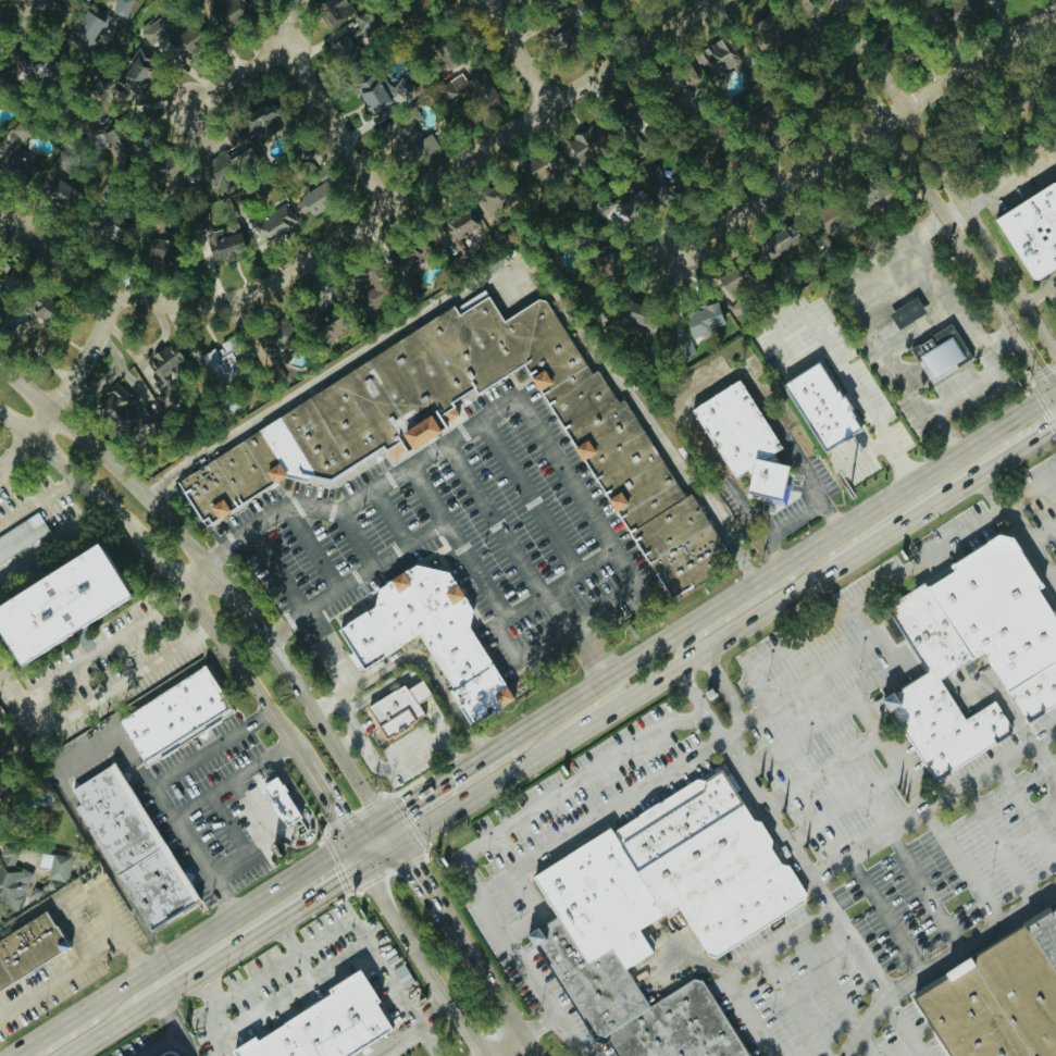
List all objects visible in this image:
road: (29, 0)
building: (987, 0)
building: (537, 3)
building: (946, 8)
building: (119, 9)
building: (331, 10)
building: (219, 14)
building: (84, 28)
building: (765, 32)
building: (568, 33)
building: (879, 36)
building: (169, 40)
building: (351, 40)
road: (514, 52)
building: (903, 54)
building: (439, 58)
building: (718, 58)
building: (28, 61)
building: (132, 71)
road: (311, 82)
building: (402, 89)
building: (465, 89)
building: (368, 92)
building: (1017, 102)
building: (754, 114)
building: (624, 116)
building: (261, 120)
road: (866, 132)
building: (112, 138)
building: (403, 138)
building: (586, 142)
building: (231, 150)
building: (697, 150)
building: (15, 154)
building: (542, 166)
road: (945, 174)
road: (999, 181)
road: (425, 184)
building: (59, 192)
road: (931, 196)
building: (492, 197)
building: (309, 201)
building: (635, 202)
building: (273, 222)
building: (457, 224)
building: (1032, 228)
building: (105, 231)
building: (156, 243)
building: (223, 243)
building: (774, 244)
road: (57, 254)
building: (602, 261)
road: (498, 263)
building: (403, 265)
building: (730, 278)
road: (1041, 295)
road: (955, 305)
building: (905, 312)
road: (882, 319)
building: (315, 321)
building: (699, 322)
building: (270, 347)
building: (940, 358)
traffic signals: (1035, 361)
building: (166, 363)
building: (219, 364)
road: (974, 382)
road: (65, 385)
road: (707, 387)
road: (1055, 390)
building: (165, 397)
road: (866, 398)
building: (115, 407)
building: (821, 407)
building: (745, 444)
building: (295, 454)
road: (67, 471)
road: (566, 479)
road: (952, 490)
road: (37, 500)
road: (433, 501)
road: (797, 517)
road: (1019, 525)
road: (173, 527)
parking lot: (472, 536)
building: (22, 538)
road: (52, 541)
road: (160, 563)
road: (209, 563)
road: (780, 564)
building: (64, 604)
building: (999, 608)
road: (734, 611)
road: (840, 611)
road: (498, 613)
building: (373, 645)
road: (422, 645)
road: (333, 649)
road: (602, 656)
road: (88, 657)
road: (244, 671)
road: (115, 685)
road: (378, 688)
road: (729, 688)
road: (419, 691)
building: (1036, 692)
road: (860, 693)
building: (940, 698)
road: (625, 700)
road: (700, 701)
building: (396, 710)
road: (577, 713)
building: (173, 716)
road: (435, 716)
road: (347, 720)
building: (0, 724)
road: (1042, 755)
road: (402, 759)
road: (349, 767)
road: (233, 777)
road: (445, 779)
road: (569, 786)
road: (159, 792)
road: (933, 793)
road: (323, 794)
building: (283, 802)
traffic signals: (407, 804)
building: (4, 808)
road: (309, 812)
traffic signals: (336, 816)
road: (367, 829)
road: (392, 830)
road: (265, 836)
building: (131, 847)
road: (356, 853)
road: (382, 855)
road: (527, 857)
traffic signals: (410, 858)
building: (52, 866)
road: (418, 870)
traffic signals: (349, 875)
building: (11, 879)
road: (918, 883)
road: (827, 893)
building: (600, 897)
road: (880, 907)
road: (969, 934)
road: (249, 937)
building: (28, 945)
road: (179, 947)
road: (294, 949)
road: (297, 951)
road: (340, 958)
road: (423, 962)
road: (78, 967)
road: (743, 967)
road: (488, 977)
building: (997, 991)
road: (216, 1001)
road: (903, 1022)
road: (181, 1024)
building: (326, 1026)
road: (76, 1030)
road: (101, 1032)
road: (573, 1032)
road: (426, 1040)
road: (504, 1041)
road: (514, 1042)
road: (162, 1043)
road: (406, 1045)
road: (483, 1055)

